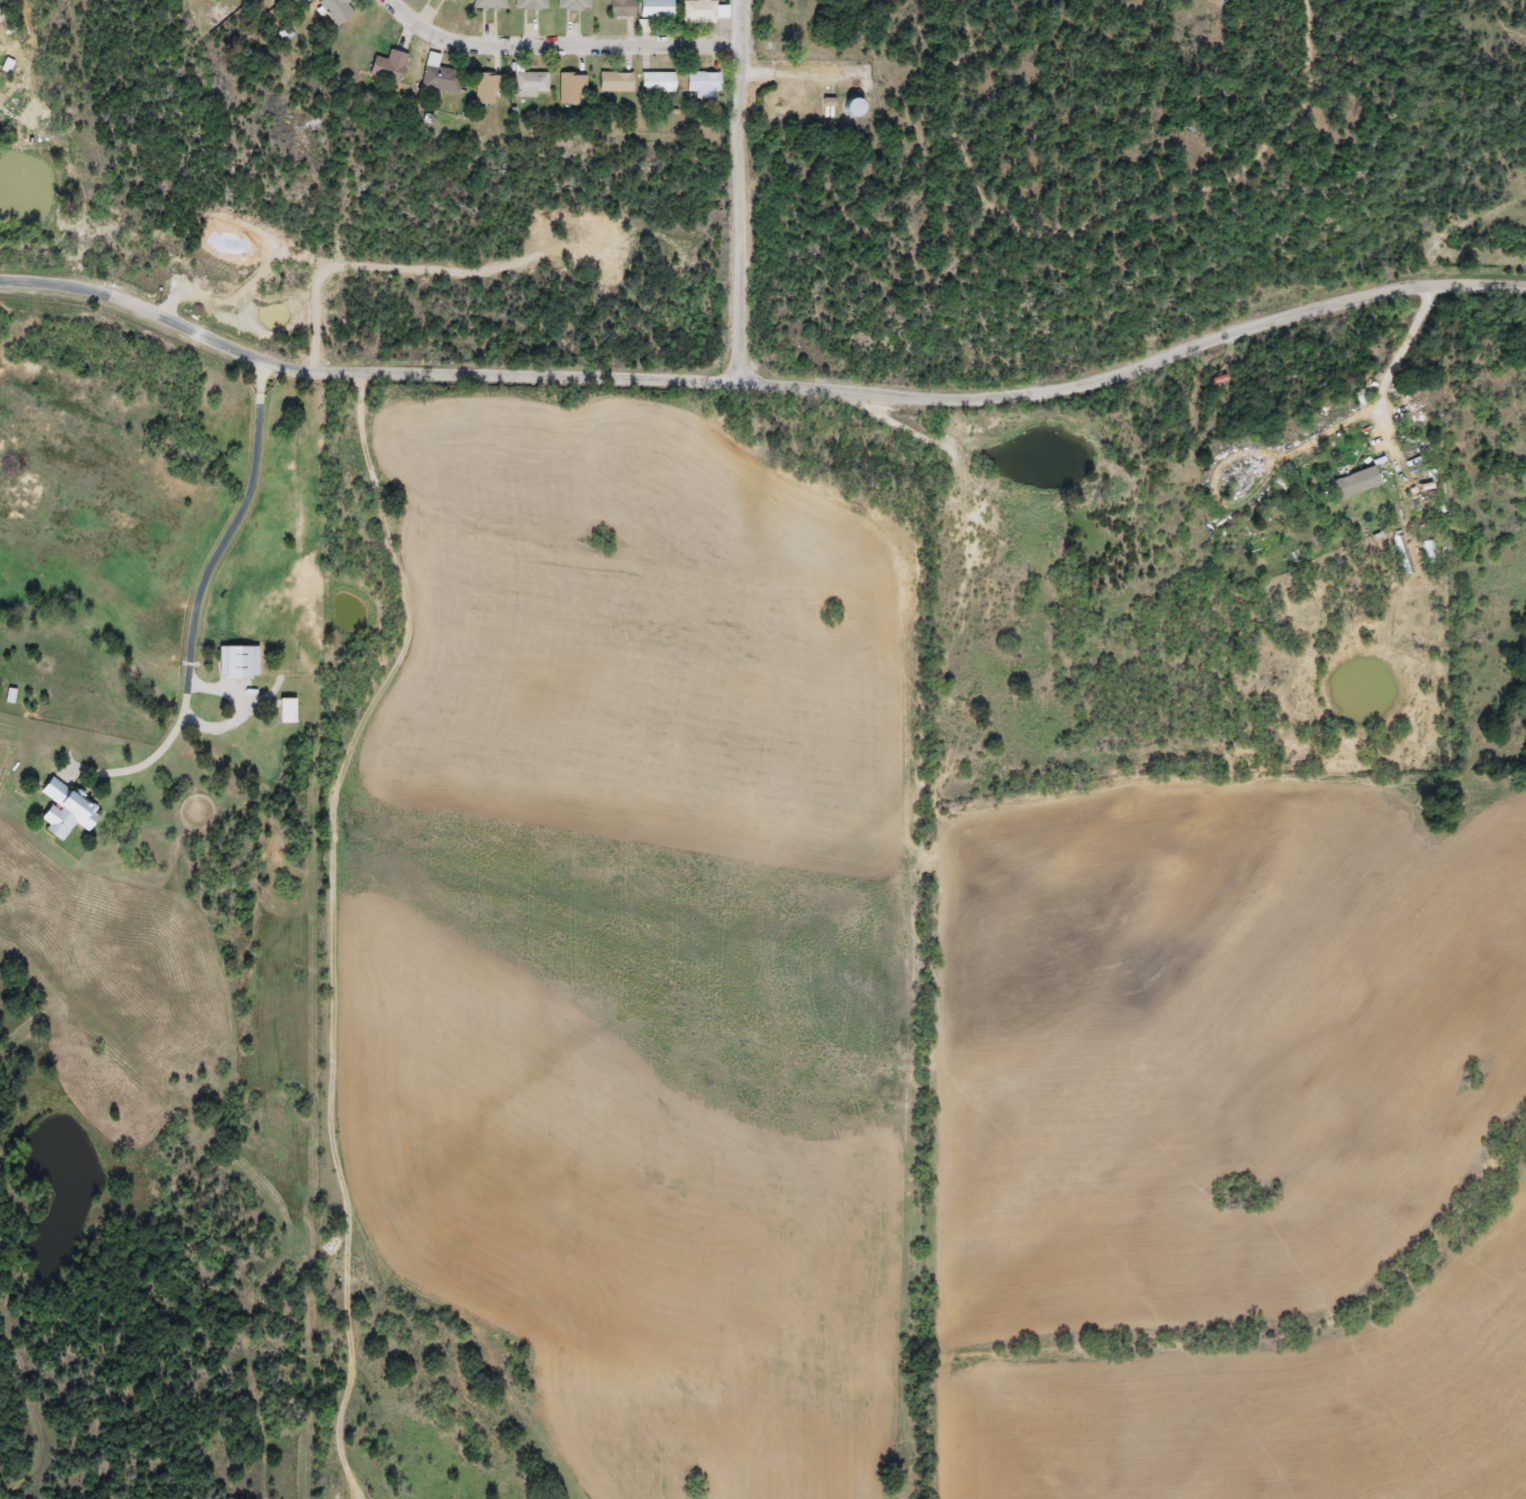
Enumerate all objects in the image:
building: (450, 1)
building: (487, 4)
building: (529, 4)
building: (620, 8)
building: (656, 8)
building: (334, 10)
building: (697, 11)
road: (565, 40)
road: (808, 50)
building: (386, 67)
building: (439, 79)
building: (614, 81)
building: (655, 82)
building: (529, 84)
building: (700, 84)
building: (569, 87)
building: (484, 89)
building: (848, 107)
road: (1297, 111)
road: (740, 187)
road: (1399, 354)
road: (762, 377)
building: (1352, 483)
road: (204, 586)
building: (236, 663)
building: (285, 711)
building: (64, 810)
road: (332, 907)

